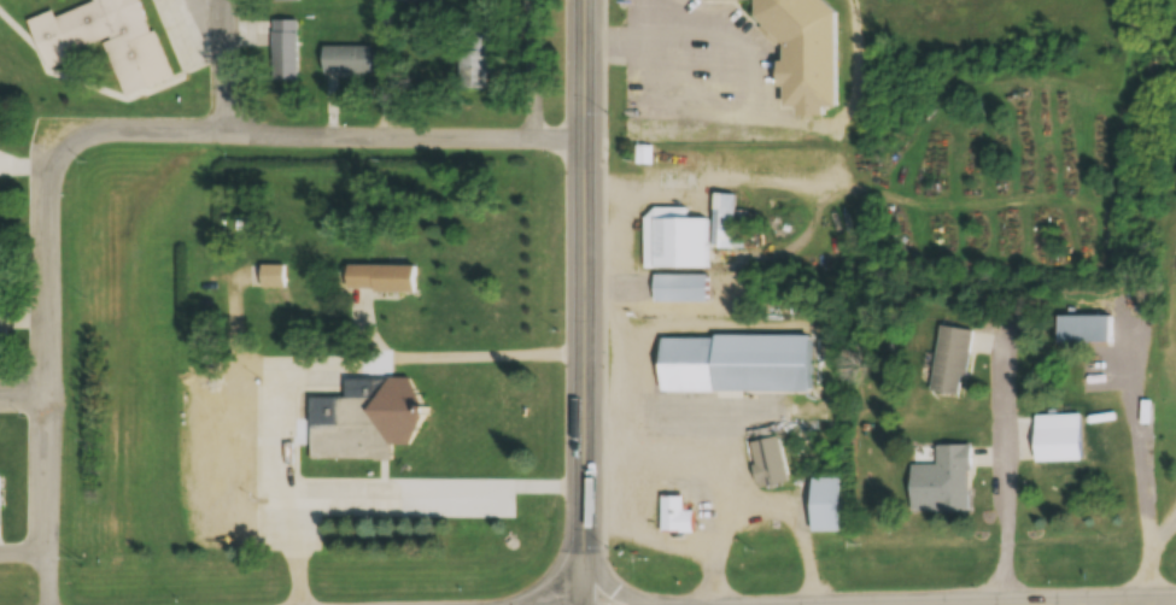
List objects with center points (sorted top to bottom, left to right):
building: (286, 0)
road: (222, 7)
building: (100, 40)
building: (805, 45)
building: (283, 51)
building: (475, 59)
building: (345, 60)
road: (224, 64)
road: (391, 66)
street lamp: (613, 113)
road: (329, 131)
building: (643, 154)
road: (801, 177)
building: (686, 236)
building: (270, 277)
building: (379, 278)
building: (679, 289)
road: (587, 301)
building: (1083, 329)
street lamp: (551, 331)
building: (767, 358)
building: (950, 362)
road: (53, 369)
road: (27, 392)
road: (275, 421)
building: (368, 423)
building: (1048, 444)
road: (1141, 444)
road: (1012, 460)
building: (767, 462)
road: (739, 476)
building: (952, 478)
building: (674, 504)
building: (824, 505)
street lamp: (613, 542)
road: (25, 551)
road: (622, 581)
road: (975, 599)

